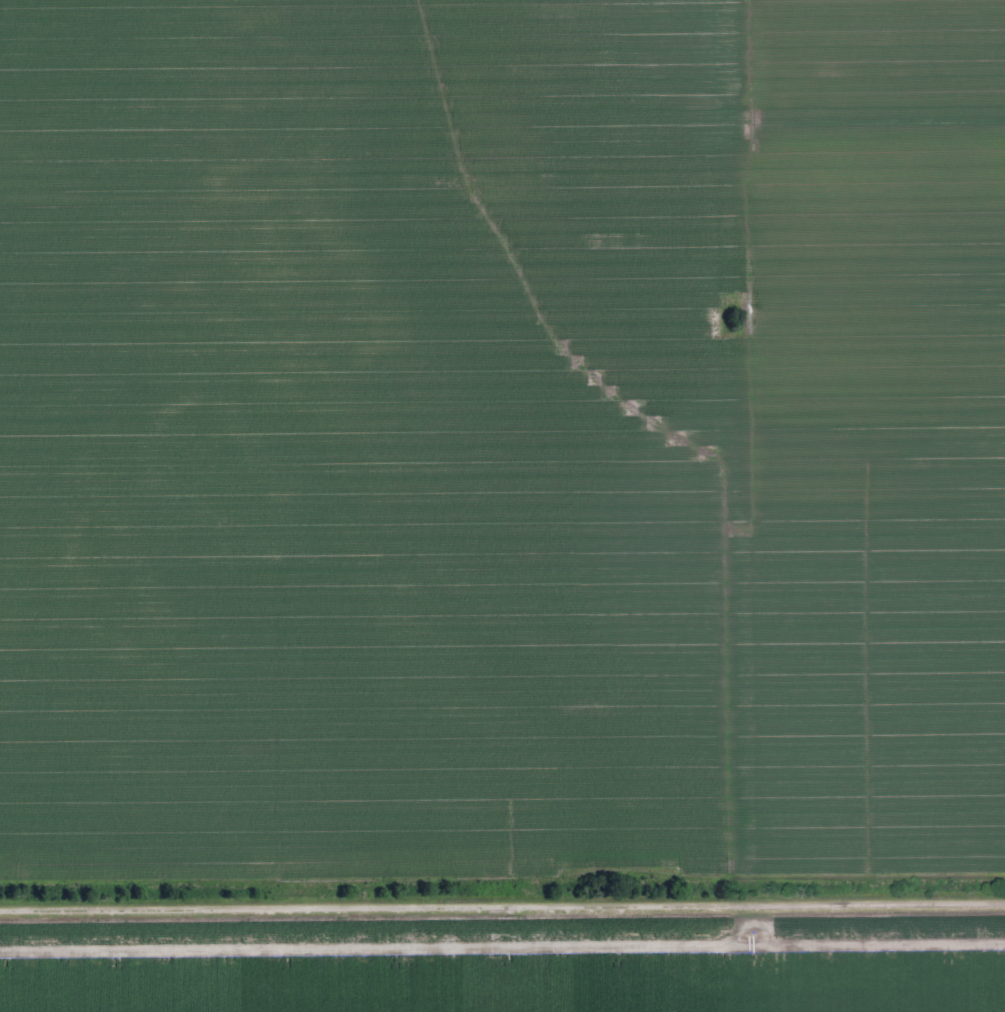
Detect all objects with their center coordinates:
road: (502, 906)

